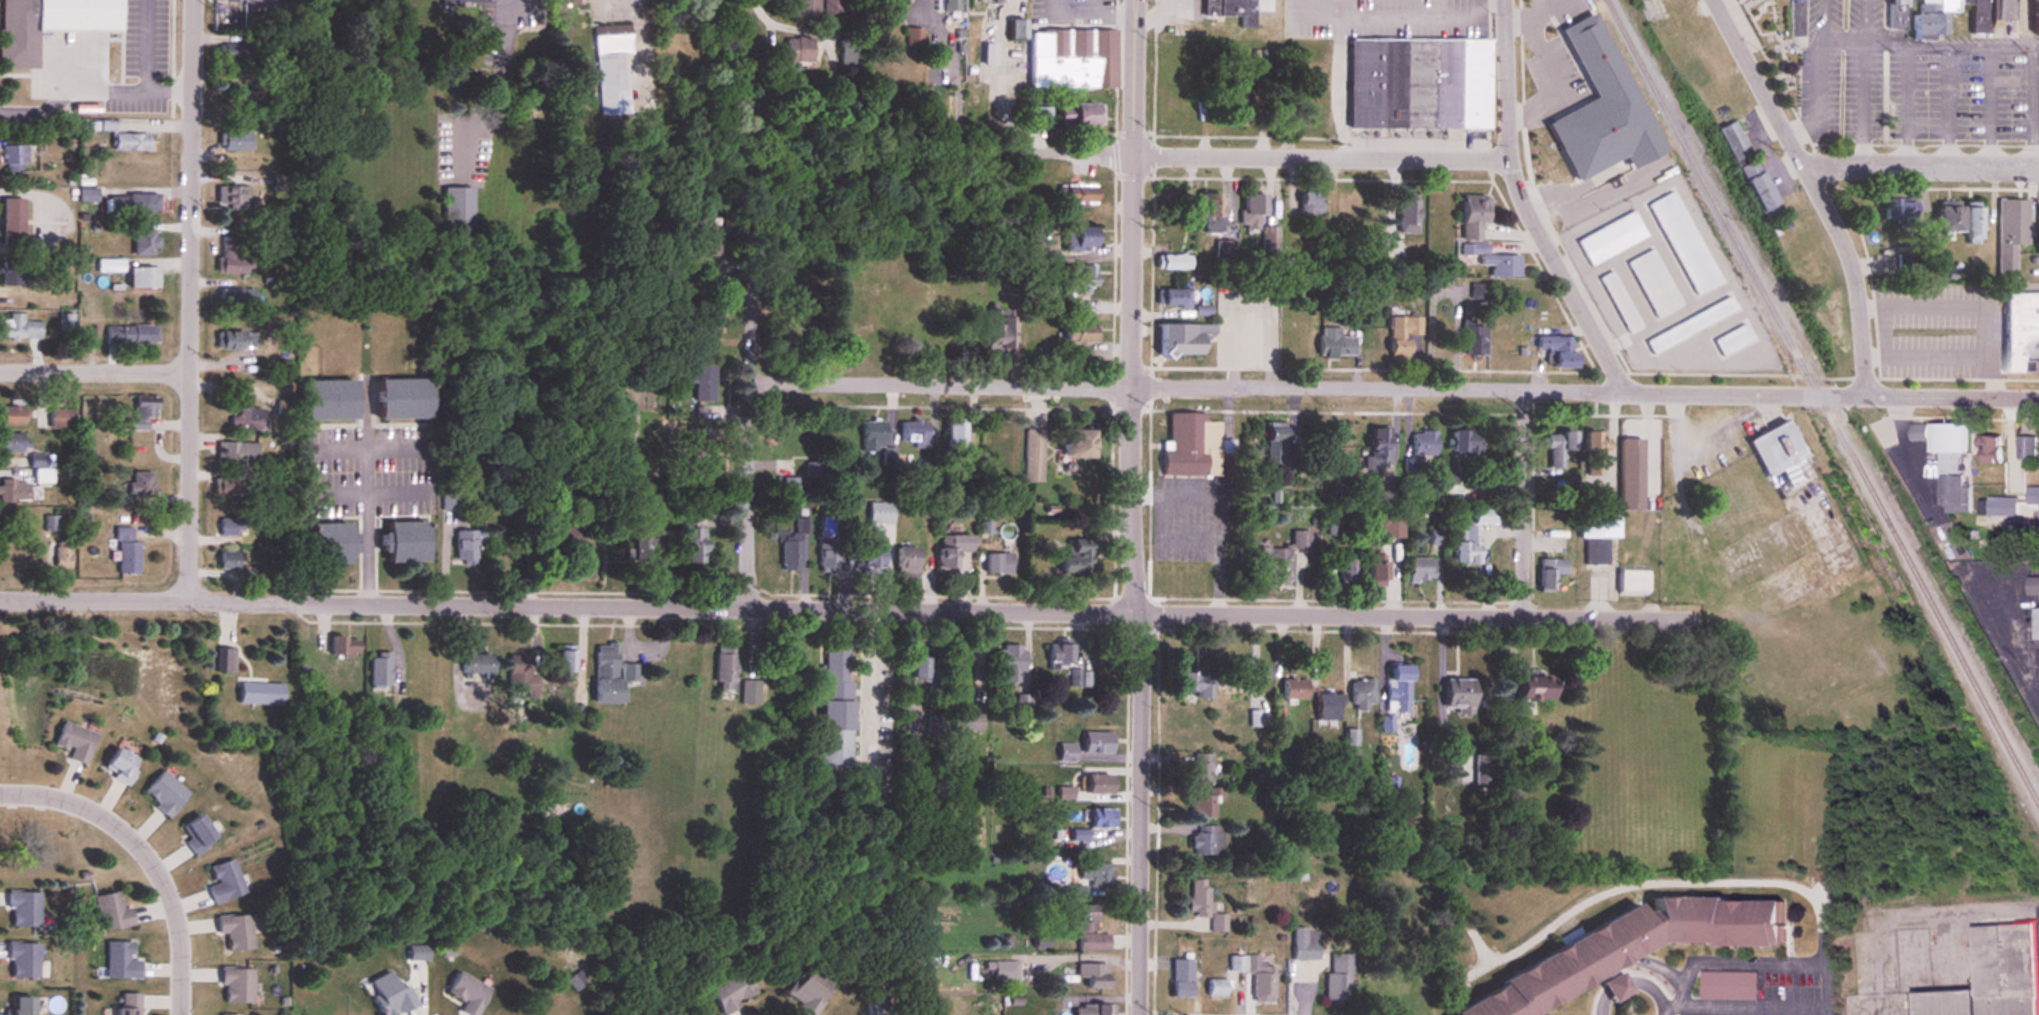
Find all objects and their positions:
building: (229, 0)
building: (1795, 0)
building: (1962, 1)
building: (899, 2)
building: (998, 2)
building: (464, 3)
building: (565, 3)
road: (502, 4)
building: (1945, 4)
building: (949, 6)
building: (1998, 9)
building: (803, 11)
building: (1231, 11)
road: (1374, 13)
road: (1464, 13)
building: (1893, 14)
building: (1978, 15)
building: (2035, 15)
building: (1924, 20)
building: (47, 24)
building: (1015, 30)
building: (912, 38)
park: (1770, 46)
building: (796, 50)
building: (234, 51)
building: (1071, 60)
building: (613, 68)
road: (950, 73)
road: (997, 75)
road: (499, 76)
building: (1418, 84)
building: (1611, 88)
building: (1238, 114)
building: (1040, 115)
building: (1085, 116)
building: (234, 134)
building: (1731, 141)
building: (129, 142)
road: (1030, 152)
road: (1323, 154)
building: (17, 157)
road: (1922, 163)
road: (1818, 188)
building: (1758, 190)
building: (1078, 195)
building: (231, 197)
building: (135, 204)
road: (1525, 206)
building: (1309, 207)
building: (1209, 208)
building: (1350, 208)
building: (457, 211)
building: (1895, 211)
building: (1253, 212)
building: (1408, 214)
building: (1473, 216)
building: (1440, 218)
building: (1944, 219)
building: (15, 222)
building: (1970, 226)
building: (1610, 239)
building: (1078, 240)
building: (708, 241)
building: (2010, 241)
building: (148, 243)
building: (1682, 243)
building: (1224, 250)
building: (231, 257)
building: (1494, 262)
building: (1174, 263)
building: (113, 266)
building: (14, 273)
building: (147, 278)
building: (1076, 281)
building: (1653, 284)
road: (189, 299)
building: (235, 299)
building: (1176, 299)
road: (1972, 301)
building: (1619, 303)
building: (1204, 311)
building: (69, 323)
building: (1689, 326)
building: (22, 328)
building: (706, 328)
building: (2020, 333)
building: (134, 334)
building: (1000, 334)
building: (1403, 334)
building: (1082, 336)
building: (1183, 340)
building: (1731, 340)
building: (236, 341)
building: (1474, 342)
building: (1290, 344)
building: (1335, 344)
building: (1558, 351)
road: (1926, 352)
road: (94, 373)
building: (699, 380)
road: (1394, 389)
railway: (1820, 399)
building: (397, 400)
building: (324, 401)
building: (144, 415)
building: (16, 416)
building: (246, 418)
building: (64, 419)
building: (914, 434)
building: (872, 437)
building: (1940, 437)
building: (958, 438)
building: (998, 439)
building: (1380, 442)
building: (15, 443)
building: (1424, 443)
building: (1082, 444)
building: (1467, 444)
building: (1191, 447)
building: (2025, 447)
building: (1774, 448)
building: (1987, 448)
building: (1558, 449)
building: (1279, 452)
building: (234, 454)
building: (1594, 454)
road: (748, 456)
building: (1035, 456)
building: (1629, 475)
building: (45, 476)
building: (144, 485)
building: (228, 486)
building: (1746, 490)
building: (15, 491)
building: (1952, 493)
building: (2010, 493)
road: (367, 502)
road: (1522, 506)
road: (1134, 507)
building: (880, 514)
building: (51, 523)
building: (229, 527)
building: (1387, 528)
building: (1597, 535)
building: (1436, 537)
building: (2013, 538)
building: (556, 539)
building: (691, 541)
building: (401, 544)
building: (326, 545)
building: (642, 545)
building: (465, 546)
building: (1464, 546)
building: (951, 551)
building: (64, 554)
building: (868, 557)
building: (130, 558)
building: (827, 558)
building: (1078, 558)
building: (1282, 559)
building: (227, 560)
building: (905, 561)
building: (998, 563)
building: (1418, 570)
building: (1346, 573)
building: (1376, 573)
building: (1549, 573)
building: (1631, 581)
building: (2032, 585)
road: (841, 610)
building: (2035, 623)
building: (342, 646)
building: (1059, 652)
building: (566, 658)
building: (225, 659)
building: (1010, 662)
building: (476, 664)
building: (923, 667)
building: (378, 669)
building: (724, 670)
building: (517, 672)
building: (610, 672)
building: (1081, 678)
building: (1193, 682)
building: (1529, 686)
building: (1294, 688)
building: (1397, 688)
building: (259, 693)
building: (1361, 693)
building: (1457, 695)
building: (1327, 706)
building: (1024, 707)
building: (1686, 708)
building: (835, 709)
building: (967, 722)
building: (1387, 723)
building: (73, 741)
building: (1096, 742)
building: (1066, 752)
building: (118, 765)
building: (1201, 767)
building: (1096, 782)
building: (164, 793)
building: (1204, 803)
building: (1098, 819)
building: (196, 834)
building: (1205, 840)
road: (149, 855)
building: (1093, 874)
building: (224, 882)
building: (1074, 891)
building: (1198, 898)
building: (22, 909)
building: (111, 911)
building: (1080, 918)
building: (1217, 923)
building: (235, 931)
building: (1092, 942)
building: (1304, 944)
building: (1628, 947)
building: (417, 953)
building: (21, 960)
building: (119, 960)
road: (1756, 962)
building: (1004, 970)
building: (1092, 974)
building: (1338, 976)
building: (1990, 976)
building: (1179, 978)
building: (1259, 979)
road: (1630, 982)
building: (236, 984)
building: (1728, 985)
building: (1614, 986)
building: (1215, 987)
building: (807, 990)
building: (644, 991)
building: (731, 991)
building: (466, 992)
building: (389, 995)
building: (127, 1004)
building: (18, 1005)
road: (1749, 1005)
building: (1092, 1009)
building: (229, 1014)

